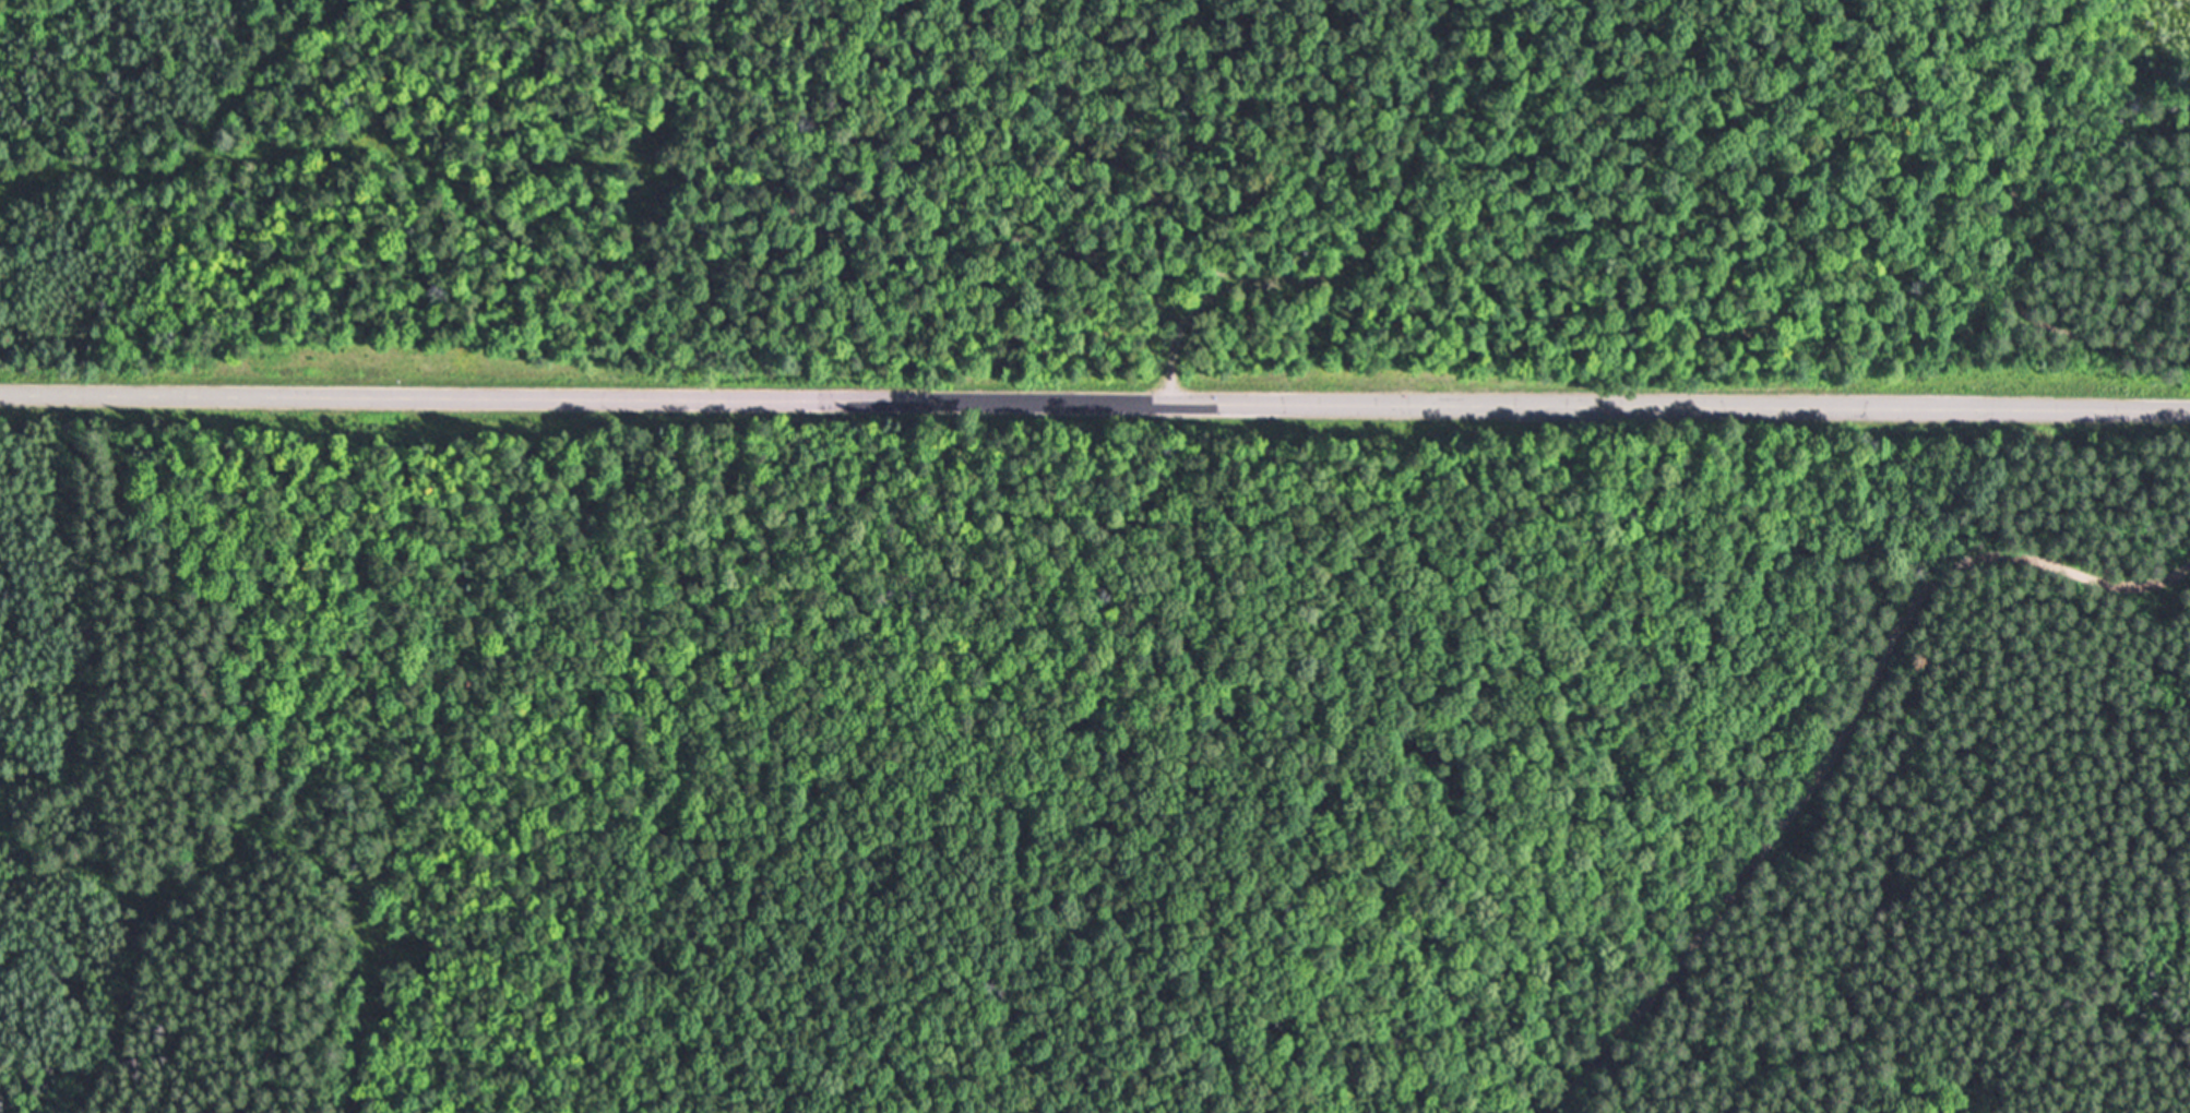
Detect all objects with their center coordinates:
road: (1362, 252)
road: (1094, 402)
road: (1838, 750)

